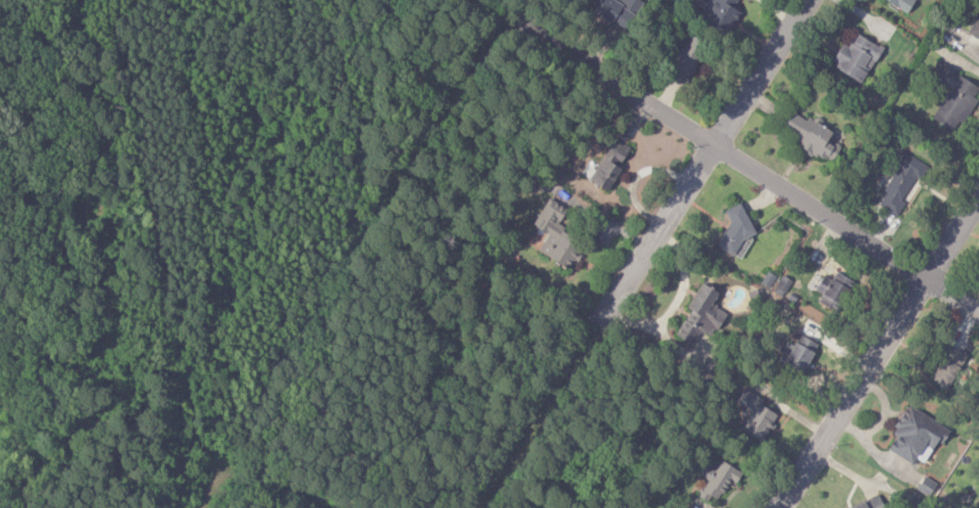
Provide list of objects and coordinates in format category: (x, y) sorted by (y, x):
building: (901, 4)
building: (617, 11)
building: (719, 14)
building: (974, 29)
building: (855, 57)
building: (685, 59)
building: (953, 97)
building: (810, 136)
road: (720, 148)
building: (607, 165)
building: (899, 184)
building: (735, 228)
building: (555, 235)
road: (642, 253)
road: (361, 263)
building: (829, 288)
road: (953, 294)
road: (674, 302)
building: (700, 315)
road: (878, 352)
building: (799, 353)
building: (947, 366)
building: (754, 415)
building: (914, 435)
building: (718, 480)
road: (283, 484)
building: (925, 485)
building: (868, 503)

